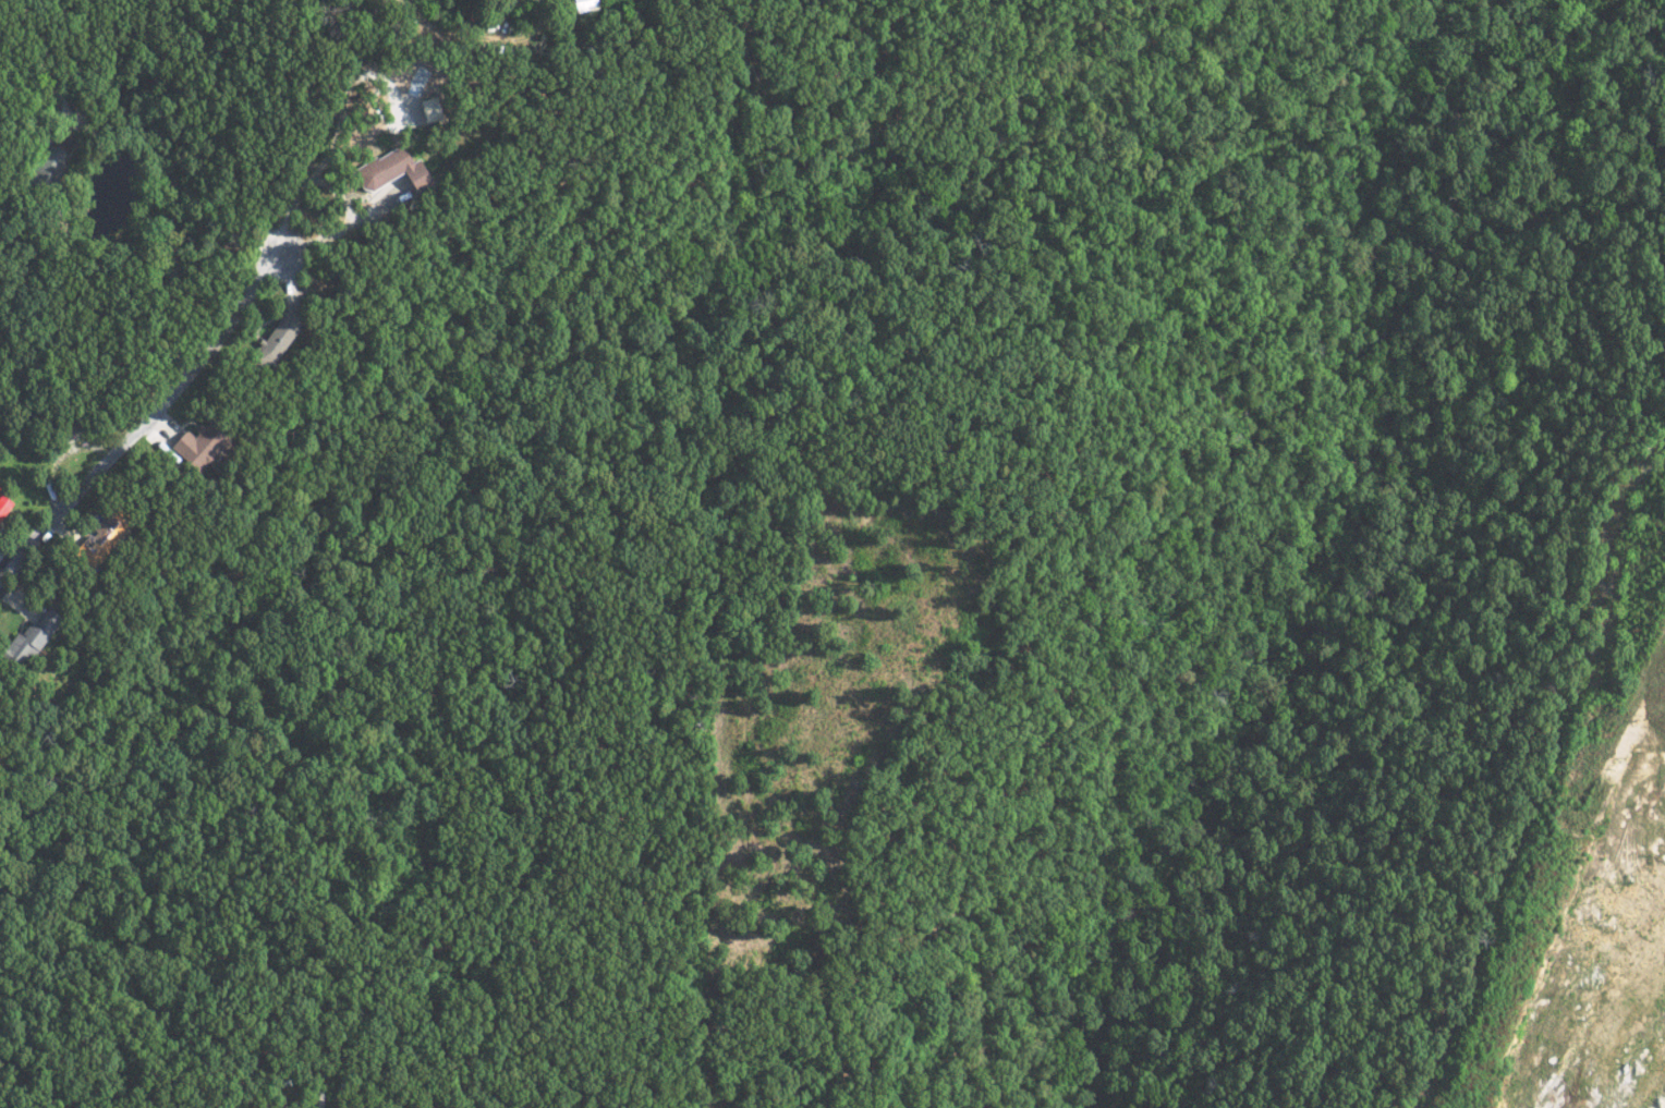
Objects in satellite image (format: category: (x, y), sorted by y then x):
building: (384, 171)
road: (170, 211)
building: (269, 342)
road: (209, 348)
building: (204, 440)
building: (38, 633)
quarry: (1572, 933)

